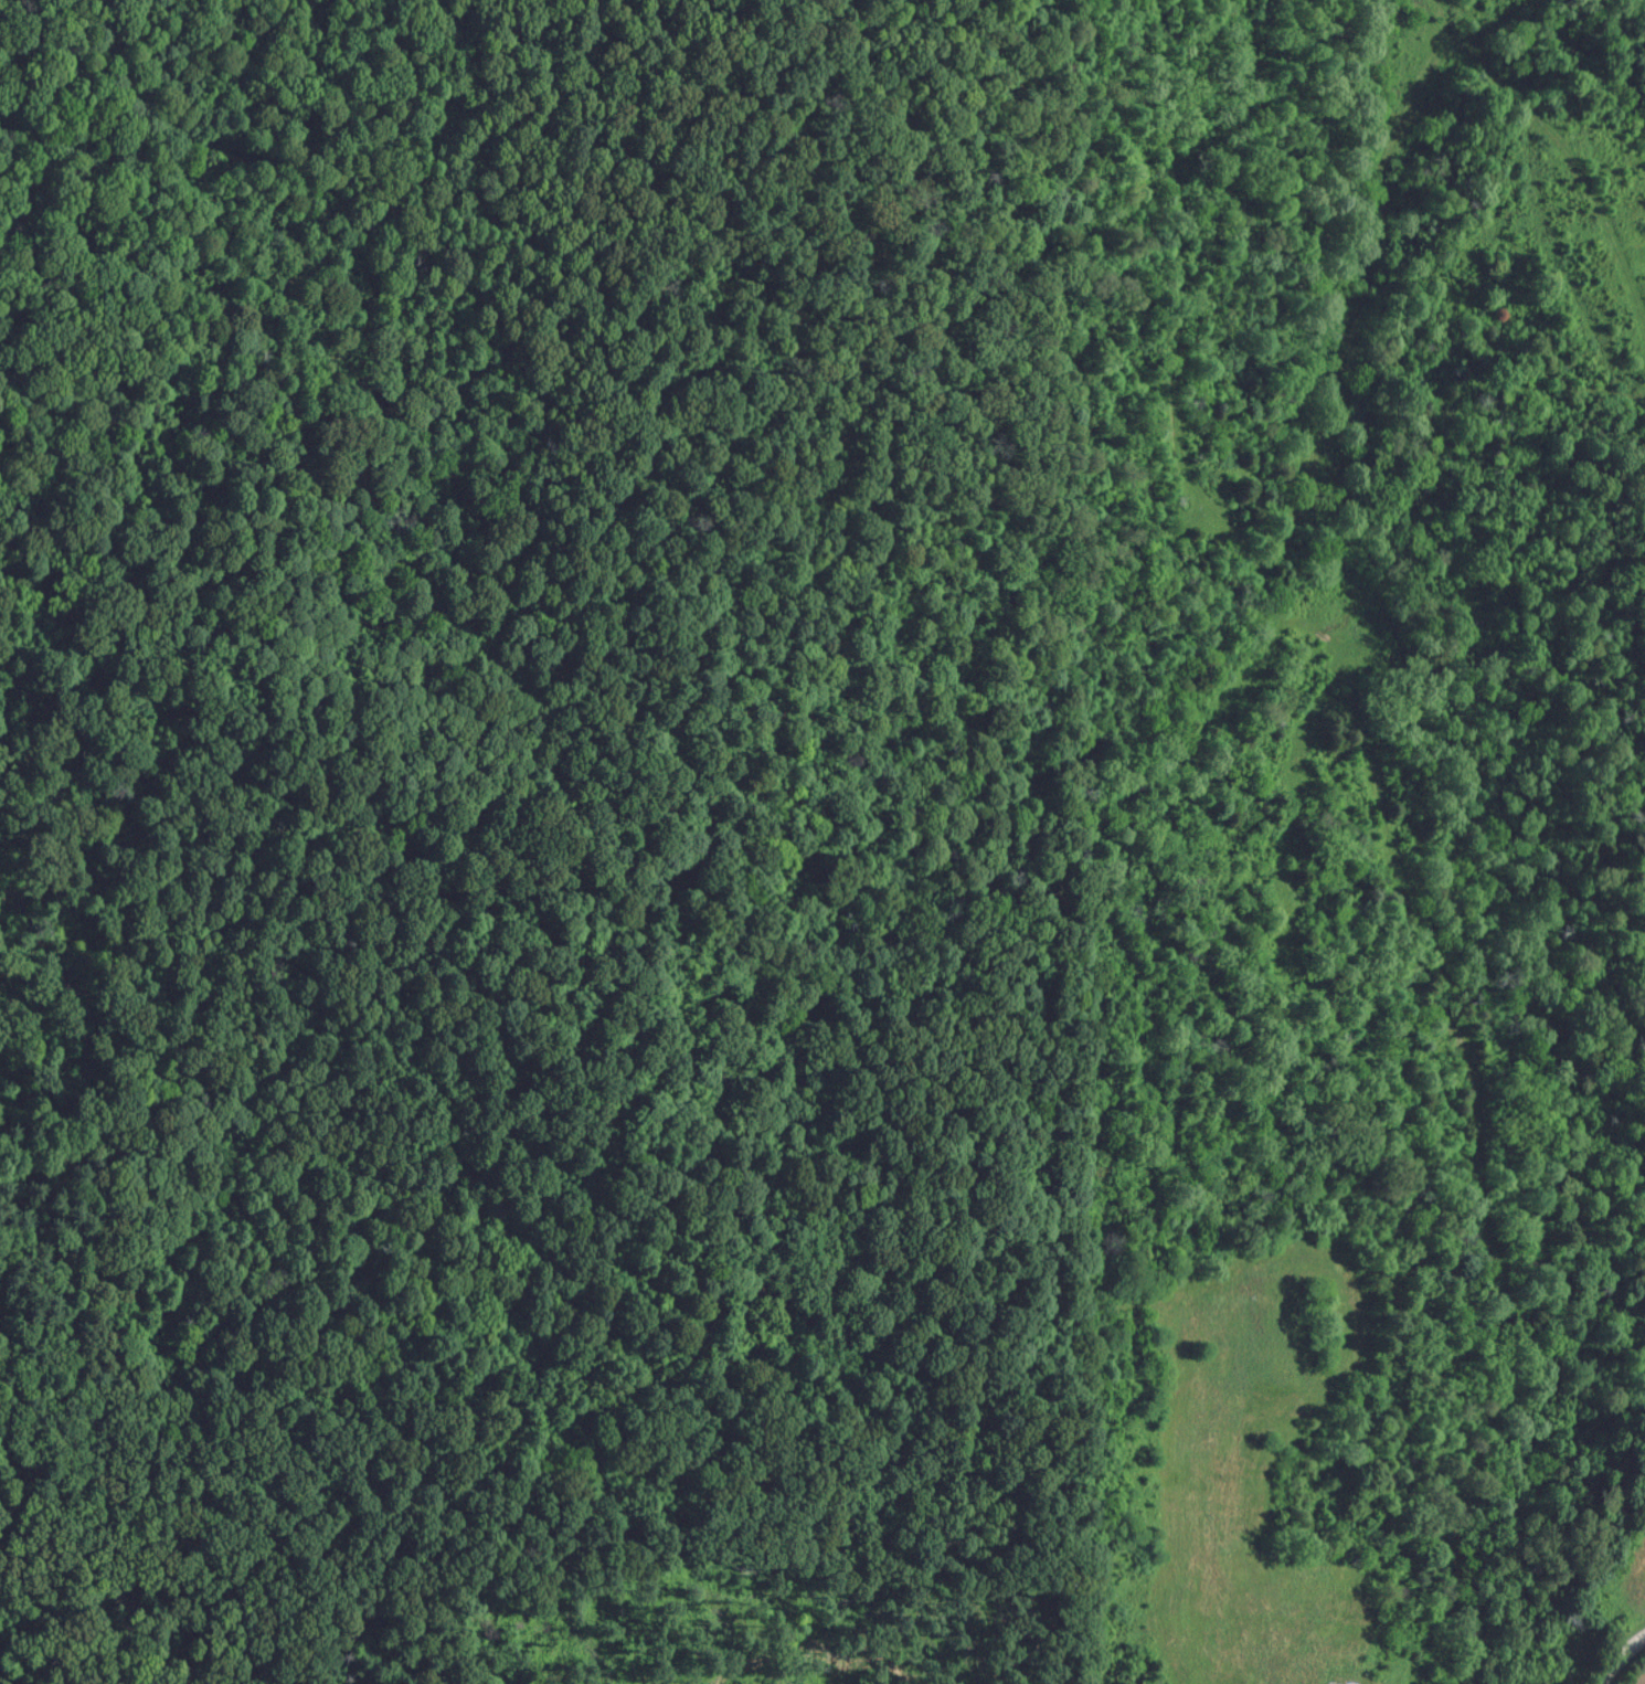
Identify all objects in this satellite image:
road: (1623, 1662)

